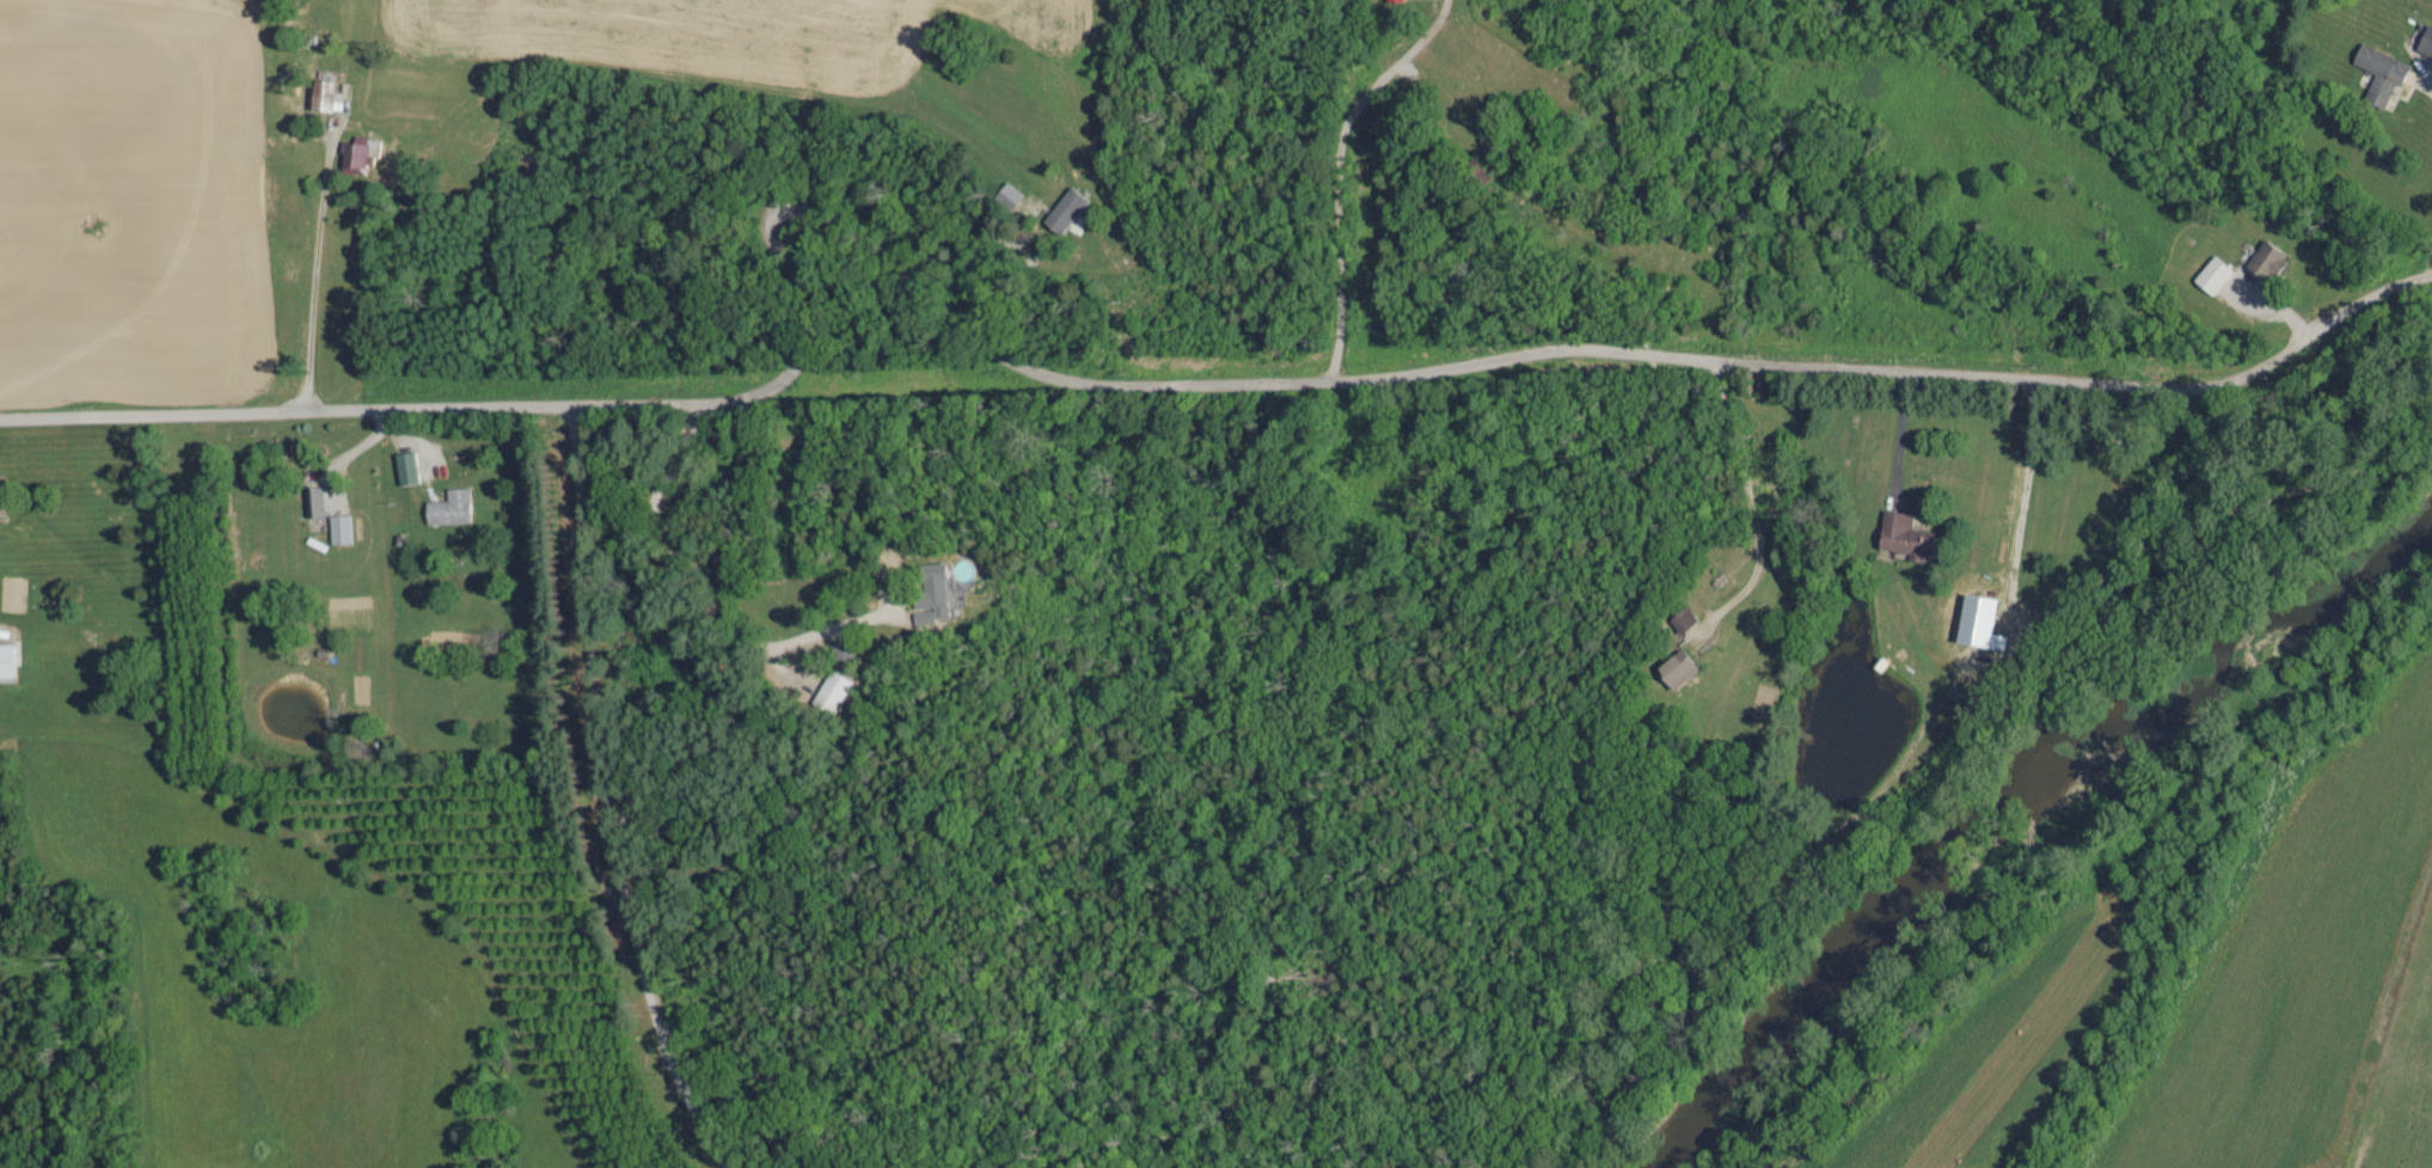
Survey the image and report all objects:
building: (1397, 1)
building: (2426, 42)
building: (2382, 74)
road: (2428, 81)
building: (359, 155)
road: (1337, 167)
road: (816, 191)
building: (1067, 210)
building: (2269, 262)
road: (320, 270)
building: (2216, 276)
road: (2341, 312)
road: (1129, 379)
road: (1903, 434)
building: (408, 469)
building: (316, 502)
building: (452, 509)
road: (1756, 525)
building: (342, 530)
building: (1906, 537)
road: (712, 588)
building: (939, 597)
building: (1686, 620)
building: (1980, 624)
building: (7, 661)
building: (1681, 671)
building: (837, 692)
road: (602, 794)

